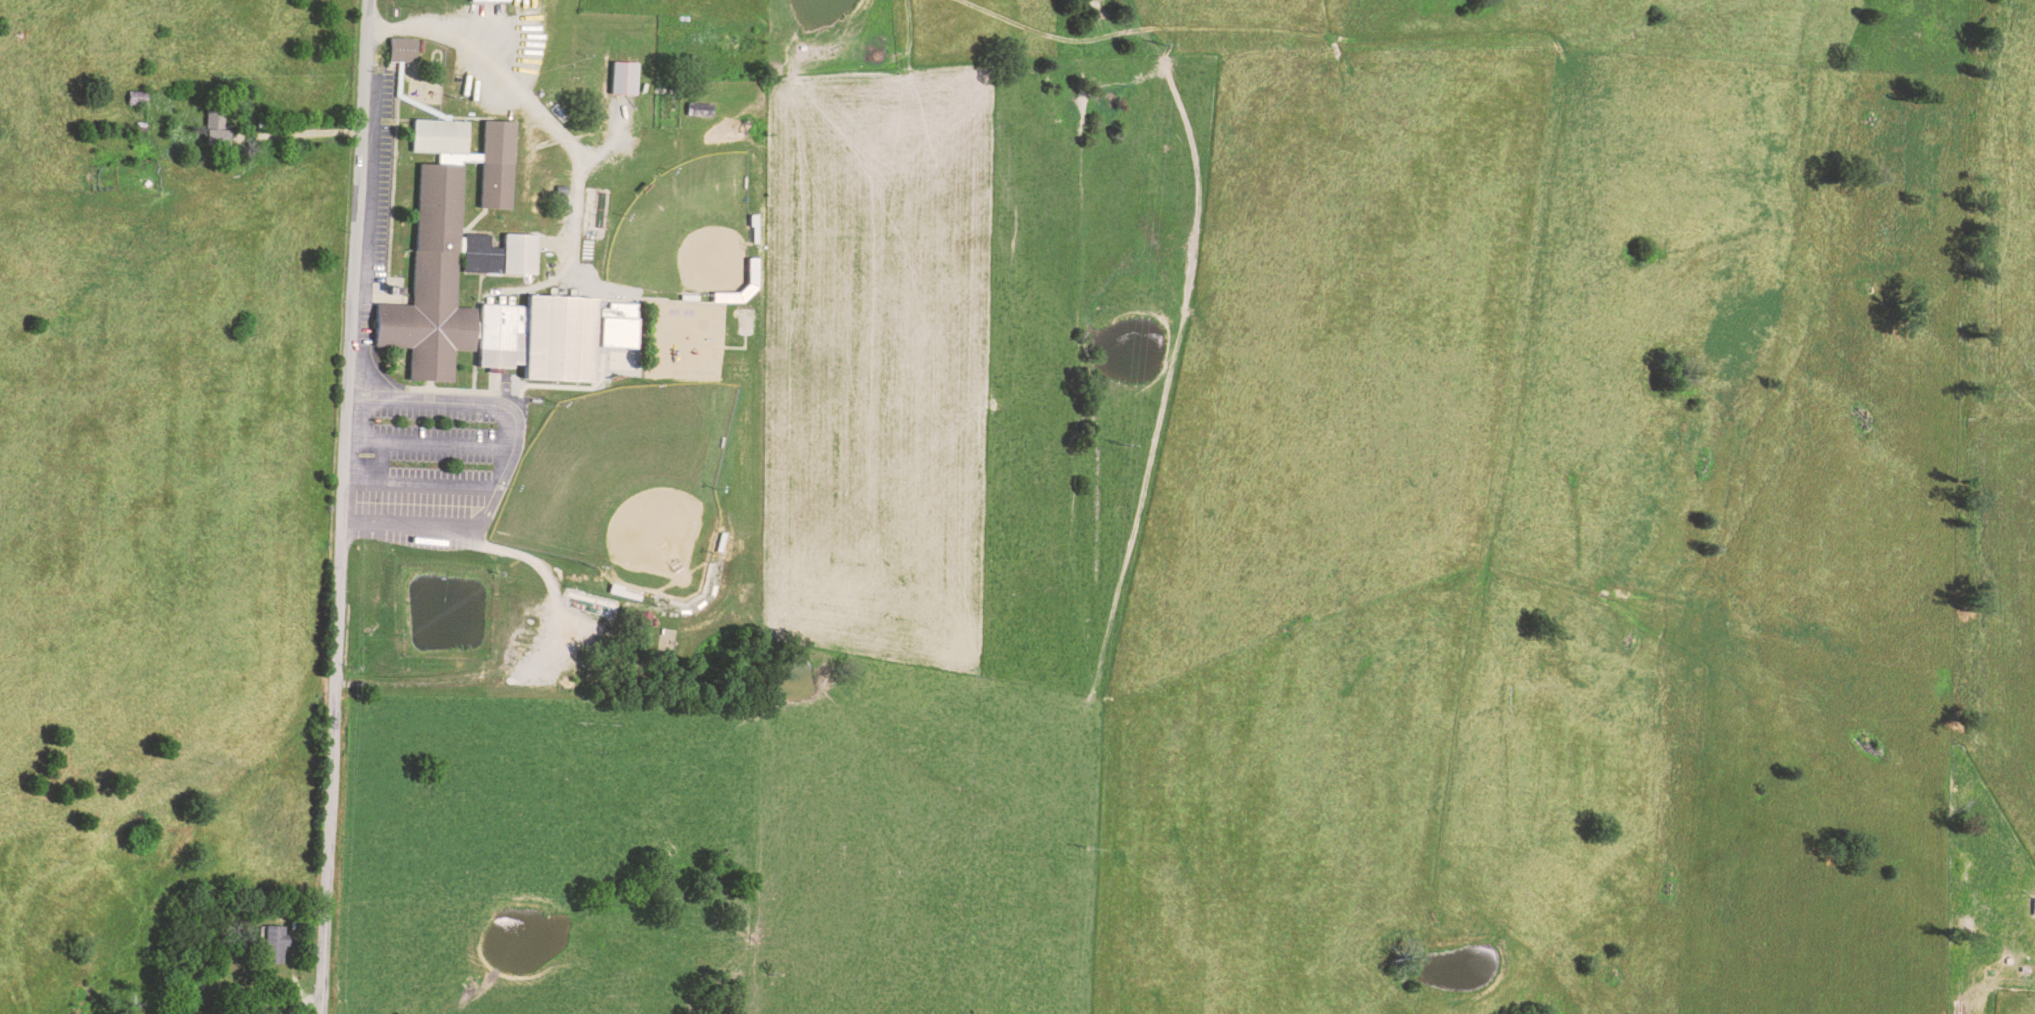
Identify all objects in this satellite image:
building: (492, 3)
building: (399, 49)
building: (621, 76)
building: (212, 124)
park: (690, 234)
building: (446, 241)
building: (480, 253)
building: (523, 256)
building: (614, 324)
building: (543, 337)
park: (628, 488)
road: (339, 507)
building: (644, 617)
building: (275, 944)

